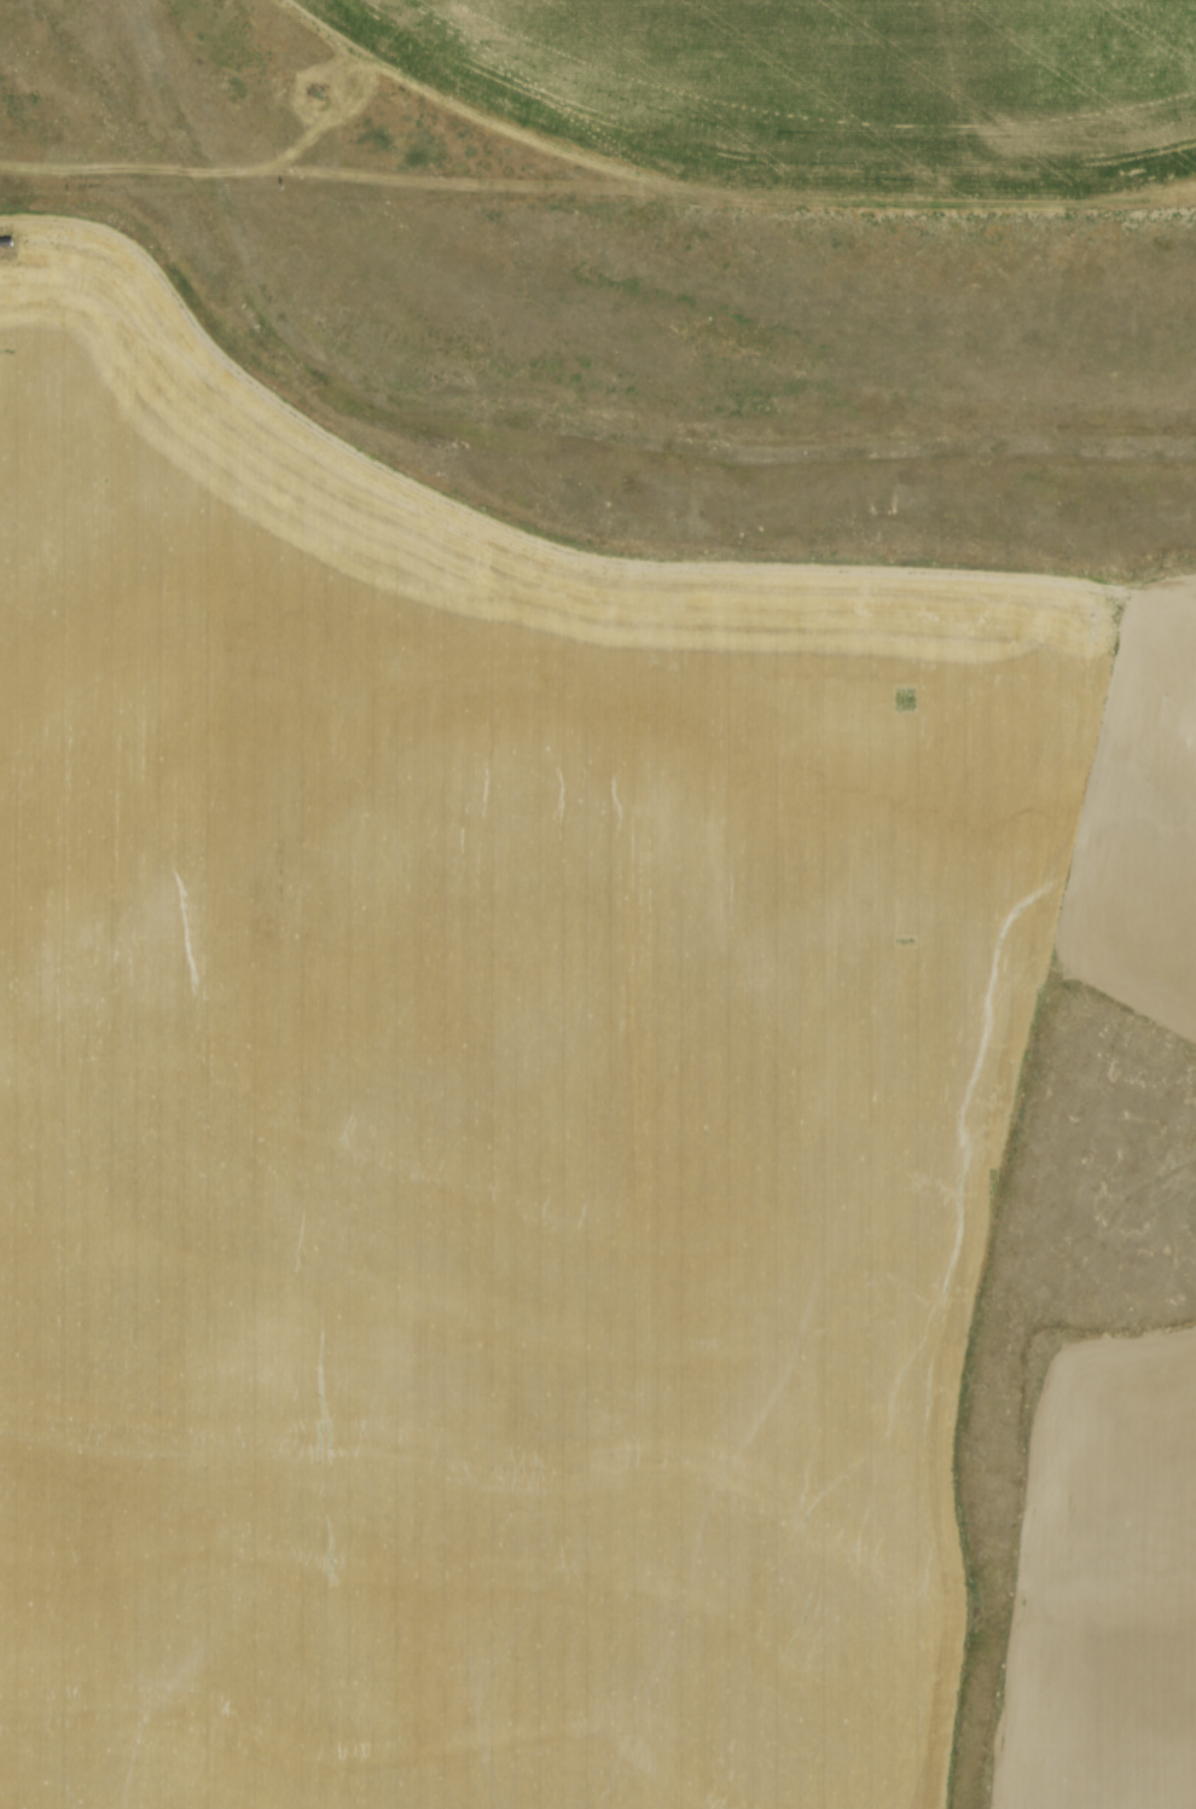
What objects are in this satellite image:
crop: (832, 82)
crop: (503, 1108)
crop: (1101, 1584)

